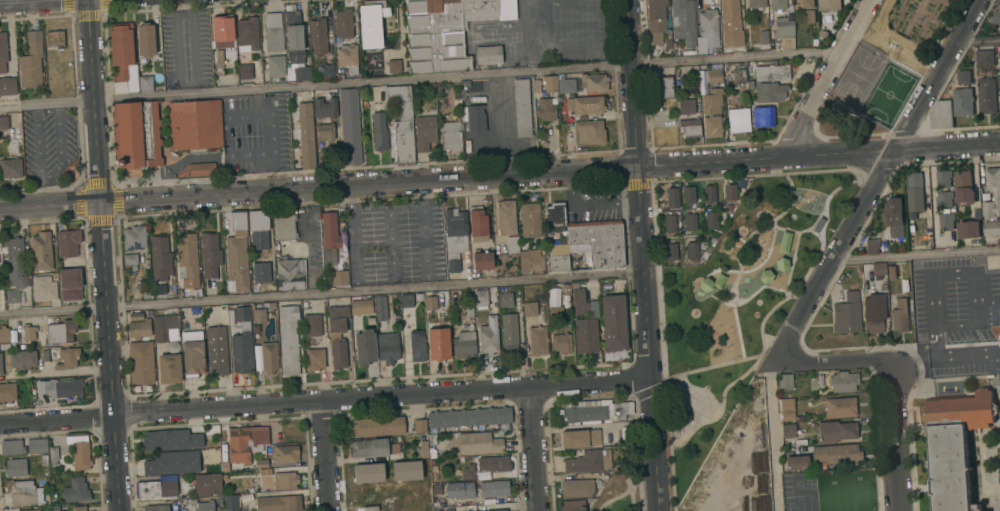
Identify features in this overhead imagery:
road: (34, 1)
building: (755, 3)
building: (807, 3)
building: (777, 4)
building: (829, 8)
building: (809, 16)
building: (996, 16)
building: (656, 20)
building: (683, 21)
building: (371, 23)
building: (345, 24)
building: (730, 25)
building: (782, 27)
building: (446, 30)
building: (222, 31)
building: (707, 31)
building: (273, 32)
building: (247, 35)
building: (823, 35)
building: (318, 36)
building: (762, 36)
building: (293, 37)
building: (54, 40)
building: (145, 40)
road: (977, 41)
building: (787, 43)
building: (816, 43)
building: (390, 44)
building: (3, 52)
building: (998, 54)
building: (488, 55)
building: (123, 57)
building: (218, 57)
building: (347, 57)
building: (984, 58)
building: (30, 61)
building: (275, 66)
building: (393, 66)
park: (886, 66)
building: (326, 70)
building: (245, 71)
building: (999, 72)
building: (301, 73)
building: (738, 75)
building: (339, 76)
building: (713, 76)
road: (824, 76)
building: (964, 77)
road: (418, 79)
building: (593, 82)
road: (631, 82)
building: (145, 83)
building: (770, 83)
building: (550, 84)
building: (7, 86)
building: (568, 86)
building: (537, 88)
building: (662, 88)
building: (999, 90)
building: (986, 95)
building: (944, 100)
building: (712, 102)
building: (962, 102)
building: (584, 106)
building: (685, 106)
building: (325, 108)
building: (521, 108)
building: (545, 109)
building: (941, 115)
building: (762, 116)
building: (475, 118)
building: (738, 120)
building: (3, 122)
building: (194, 124)
building: (402, 125)
building: (349, 126)
building: (712, 126)
building: (690, 128)
building: (378, 131)
building: (325, 132)
building: (424, 132)
building: (589, 132)
building: (155, 134)
building: (132, 135)
building: (306, 135)
building: (450, 136)
road: (265, 144)
building: (481, 144)
road: (818, 154)
building: (10, 168)
building: (197, 170)
road: (875, 179)
building: (944, 179)
road: (43, 180)
road: (318, 187)
building: (964, 187)
building: (729, 192)
building: (914, 192)
road: (39, 194)
building: (709, 194)
building: (688, 195)
building: (996, 197)
building: (944, 199)
building: (669, 200)
road: (385, 205)
road: (588, 205)
building: (728, 208)
building: (895, 212)
building: (912, 215)
building: (505, 217)
building: (555, 217)
building: (529, 220)
building: (233, 221)
building: (711, 221)
building: (946, 221)
building: (690, 222)
building: (477, 223)
building: (669, 223)
building: (284, 226)
road: (422, 227)
building: (991, 228)
building: (258, 229)
building: (968, 229)
road: (351, 232)
building: (329, 237)
building: (454, 237)
building: (134, 238)
road: (654, 239)
building: (67, 243)
building: (512, 244)
building: (597, 244)
building: (872, 246)
building: (275, 247)
building: (692, 250)
building: (41, 251)
building: (276, 252)
building: (671, 252)
building: (210, 254)
road: (103, 255)
road: (914, 255)
building: (187, 257)
building: (559, 257)
building: (160, 258)
building: (130, 259)
building: (482, 260)
building: (531, 261)
building: (237, 262)
building: (15, 268)
building: (878, 270)
building: (261, 271)
building: (891, 272)
building: (290, 274)
road: (390, 277)
building: (339, 278)
road: (427, 281)
building: (70, 284)
road: (355, 286)
building: (566, 287)
building: (43, 288)
building: (160, 289)
building: (146, 293)
building: (179, 293)
road: (321, 294)
building: (551, 297)
building: (480, 299)
building: (406, 300)
building: (505, 300)
building: (430, 303)
park: (739, 303)
building: (271, 305)
building: (360, 307)
building: (380, 308)
building: (529, 309)
building: (469, 312)
building: (874, 313)
building: (556, 314)
building: (847, 314)
building: (899, 315)
building: (135, 316)
building: (259, 316)
road: (763, 318)
building: (584, 322)
building: (614, 323)
building: (312, 325)
building: (166, 328)
building: (139, 329)
building: (509, 330)
building: (28, 332)
building: (61, 332)
building: (337, 335)
building: (3, 336)
building: (12, 336)
building: (488, 336)
road: (646, 338)
building: (288, 339)
building: (241, 341)
building: (537, 341)
building: (438, 343)
building: (561, 343)
building: (464, 344)
road: (785, 344)
building: (364, 347)
road: (888, 347)
building: (387, 348)
building: (417, 348)
building: (216, 350)
building: (192, 353)
building: (61, 357)
building: (269, 357)
road: (943, 357)
road: (767, 358)
building: (22, 359)
building: (314, 359)
road: (830, 362)
building: (140, 363)
building: (1, 366)
road: (710, 367)
building: (169, 368)
road: (60, 374)
building: (843, 381)
building: (785, 382)
building: (60, 388)
road: (649, 391)
building: (7, 392)
road: (323, 400)
building: (840, 407)
building: (787, 410)
building: (595, 412)
building: (469, 417)
building: (798, 418)
building: (682, 419)
building: (420, 425)
building: (376, 426)
building: (788, 431)
building: (836, 431)
road: (770, 435)
road: (892, 435)
building: (580, 438)
building: (170, 440)
building: (245, 442)
building: (472, 444)
building: (955, 445)
building: (37, 446)
building: (431, 446)
building: (11, 448)
building: (373, 448)
building: (423, 449)
road: (533, 449)
building: (79, 452)
road: (637, 453)
building: (285, 454)
building: (835, 455)
building: (53, 456)
road: (325, 456)
building: (588, 461)
building: (795, 462)
building: (172, 463)
building: (261, 463)
building: (494, 464)
building: (15, 468)
building: (405, 471)
building: (468, 472)
building: (367, 473)
road: (166, 478)
road: (179, 478)
road: (138, 480)
building: (51, 481)
building: (285, 481)
road: (633, 483)
park: (620, 484)
building: (207, 485)
building: (577, 488)
building: (156, 489)
building: (494, 489)
building: (459, 490)
building: (76, 491)
building: (22, 494)
road: (613, 499)
road: (630, 500)
building: (231, 503)
building: (278, 503)
building: (572, 505)
building: (999, 505)
building: (977, 506)
building: (157, 507)
building: (205, 507)
building: (79, 508)
building: (32, 510)
building: (496, 510)

